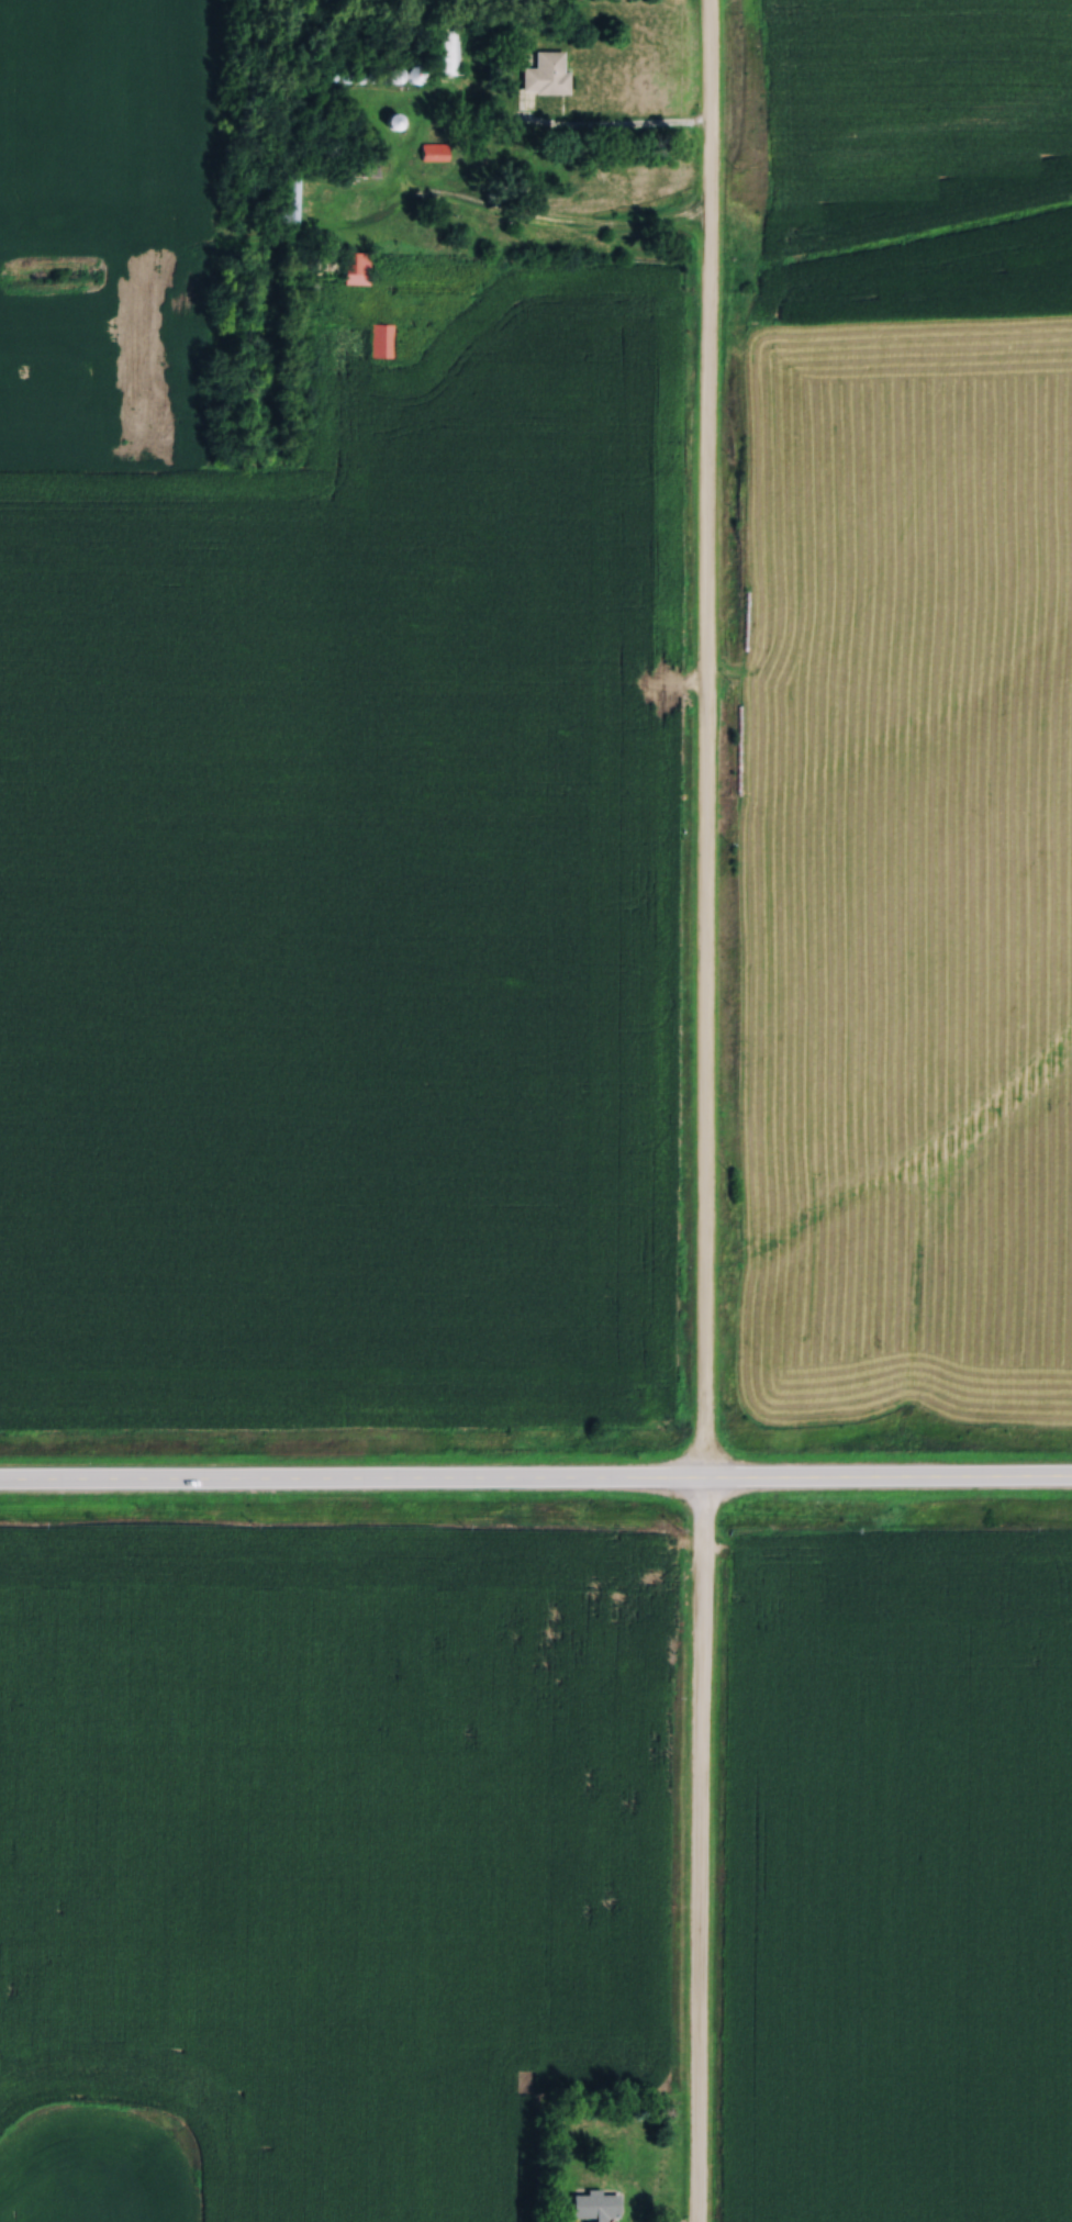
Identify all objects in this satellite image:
building: (442, 52)
building: (403, 70)
building: (544, 70)
building: (390, 118)
road: (628, 129)
building: (433, 148)
building: (288, 194)
road: (526, 223)
building: (351, 264)
building: (380, 336)
road: (703, 1110)
road: (536, 1483)
building: (592, 2202)

